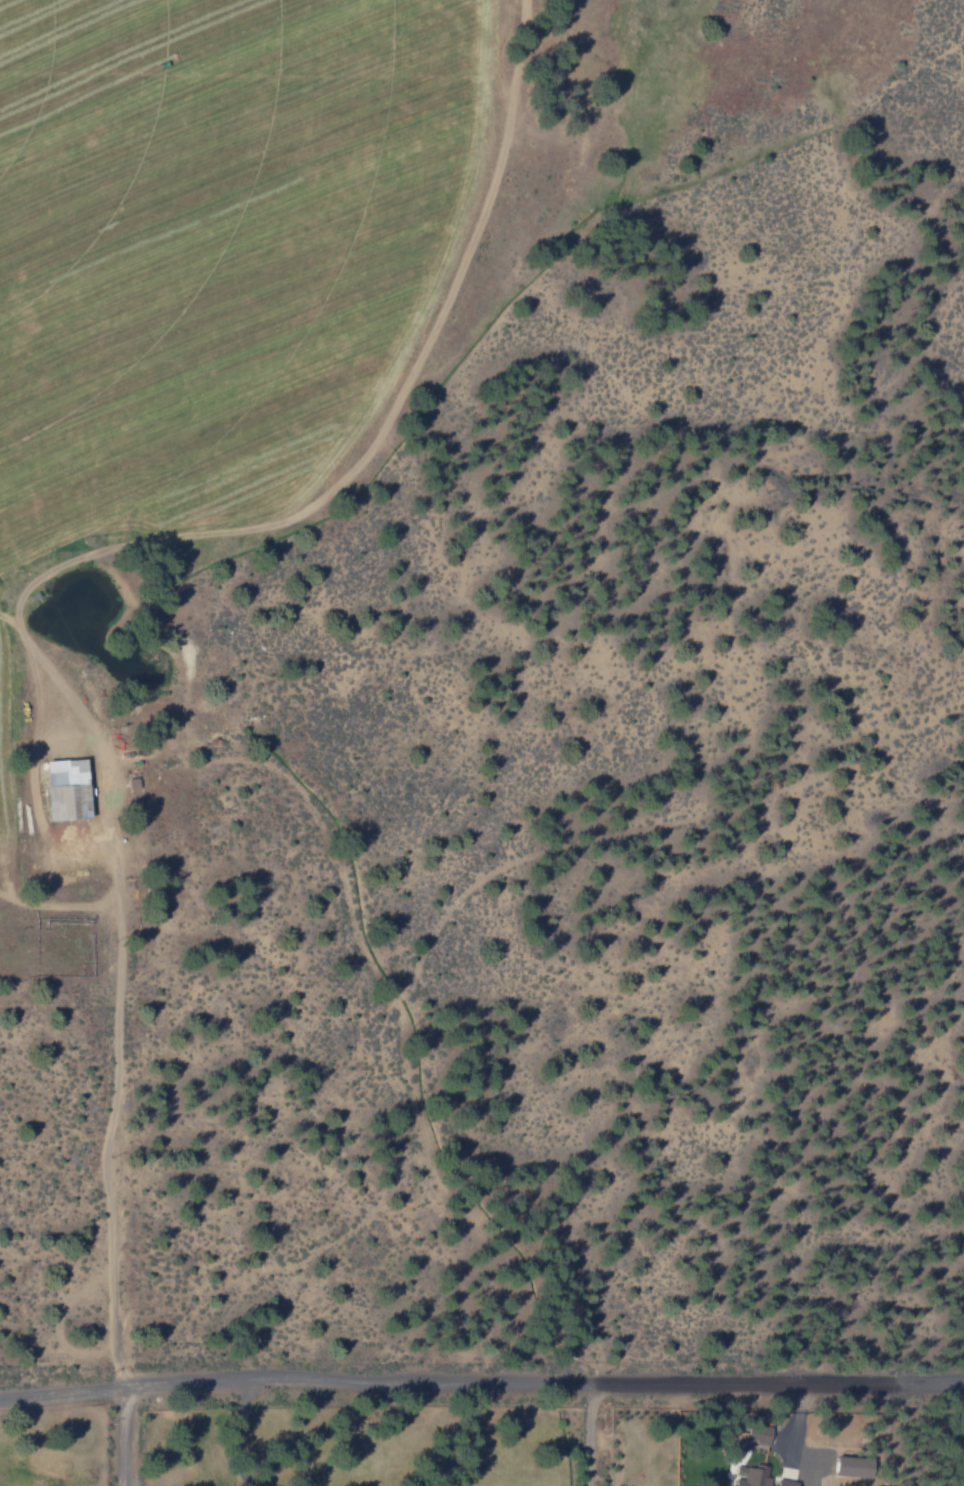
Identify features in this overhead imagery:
building: (67, 787)
road: (481, 1382)
road: (122, 1433)
building: (851, 1465)

